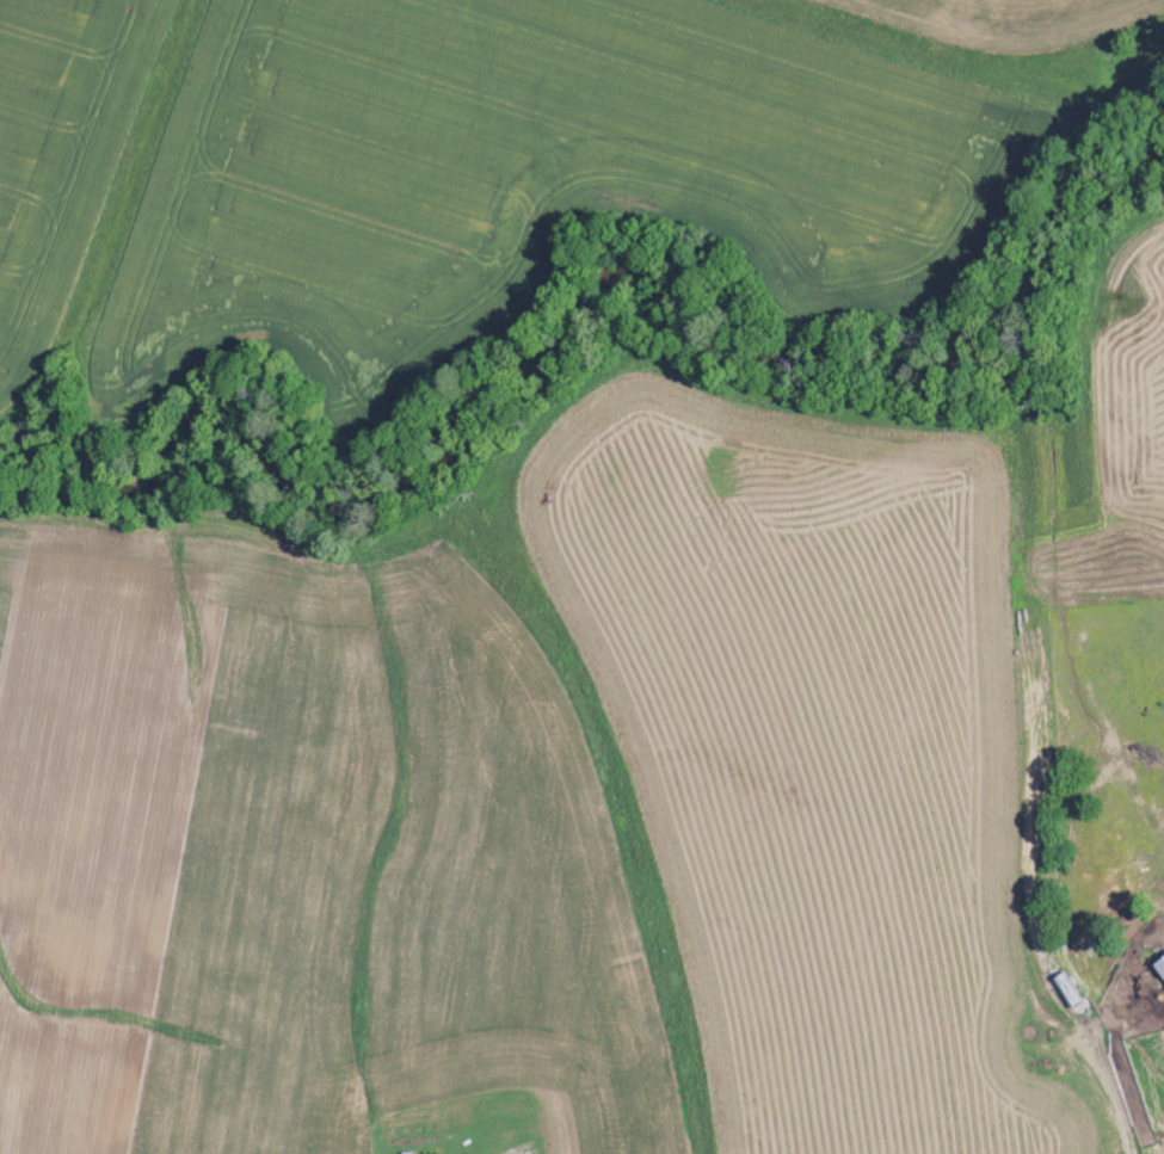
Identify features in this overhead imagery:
road: (1018, 1055)

